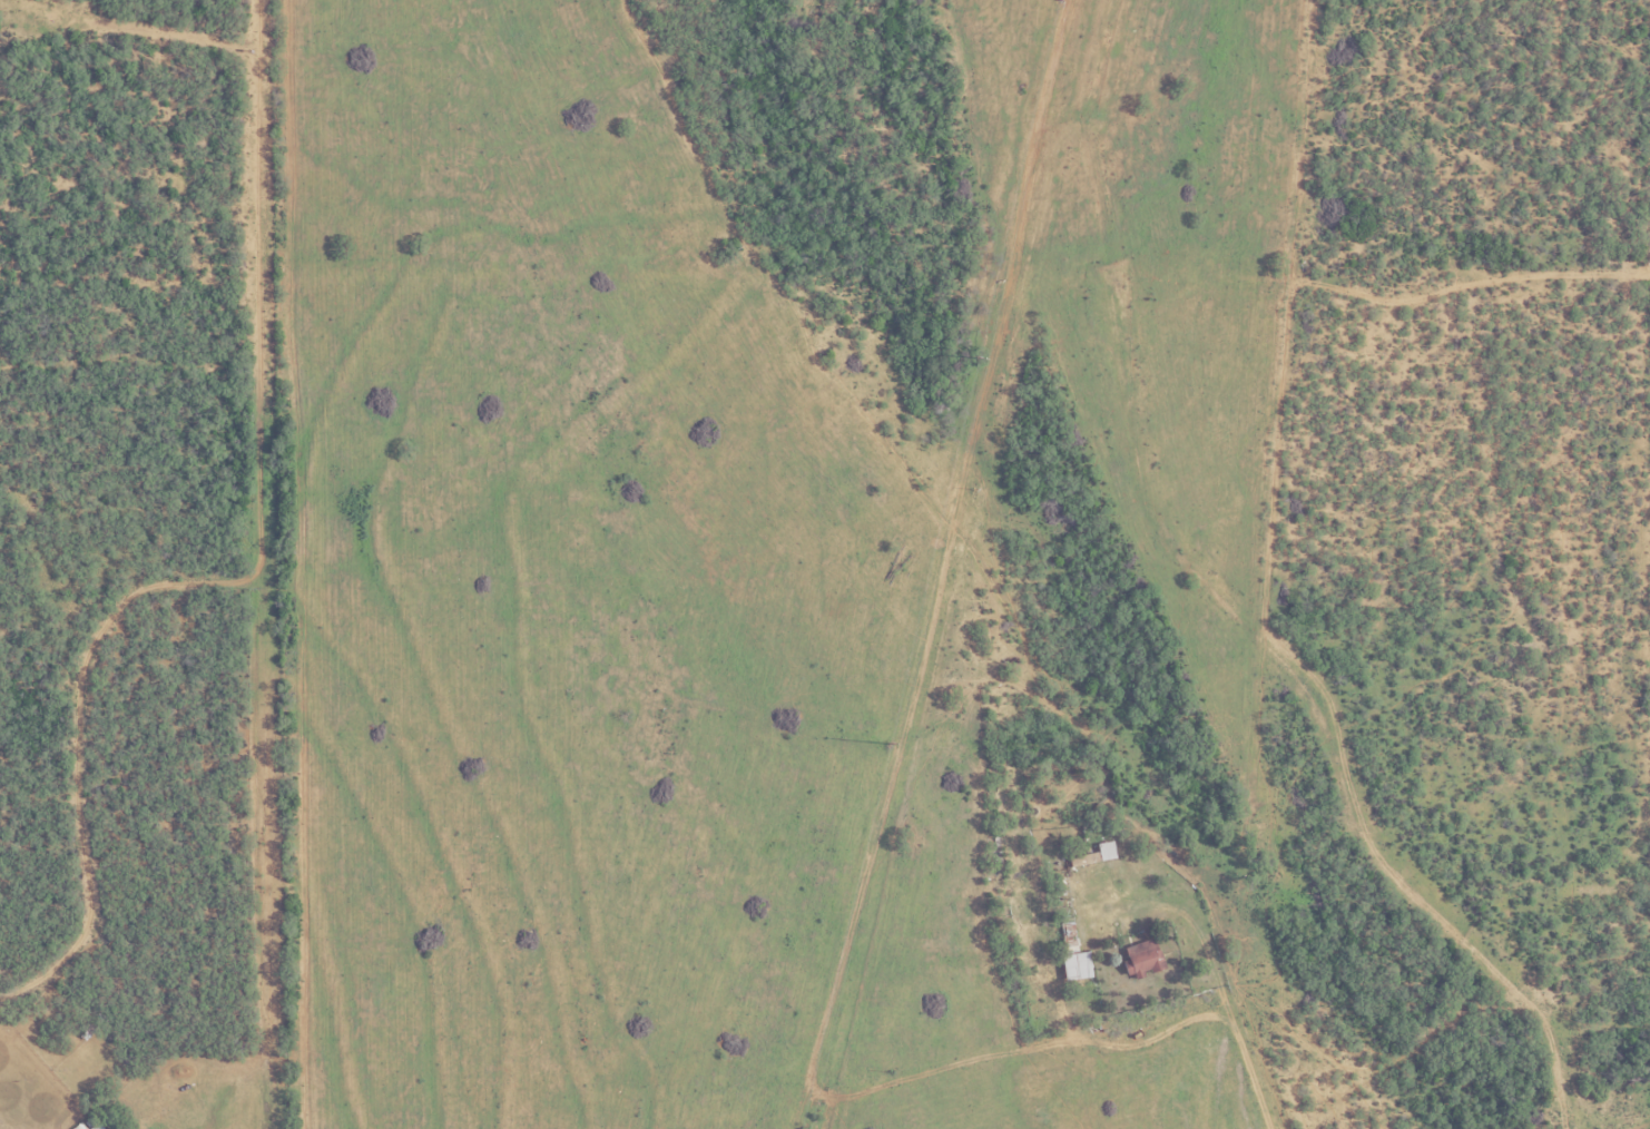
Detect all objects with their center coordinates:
power tower: (976, 356)
power tower: (886, 744)
building: (1139, 958)
building: (77, 1127)

